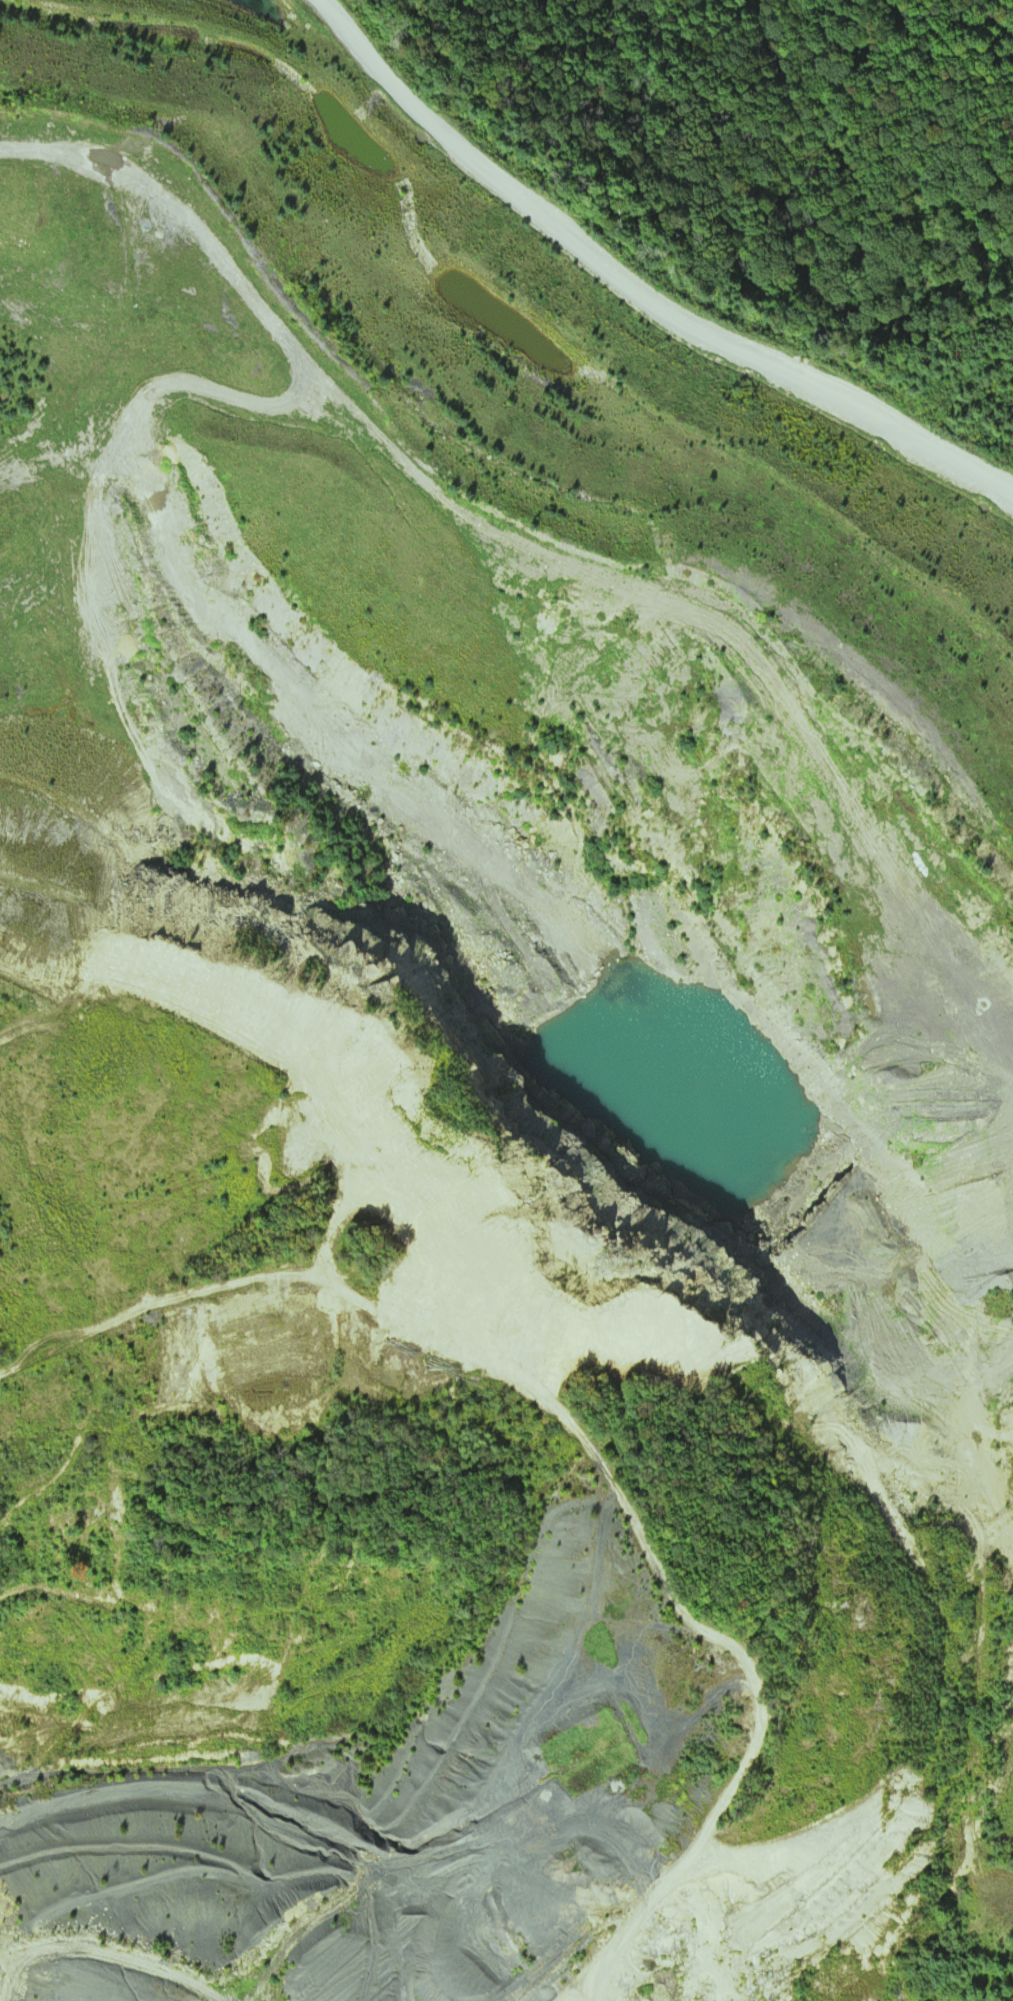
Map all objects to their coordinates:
road: (633, 328)
road: (990, 1860)
road: (6, 1937)

